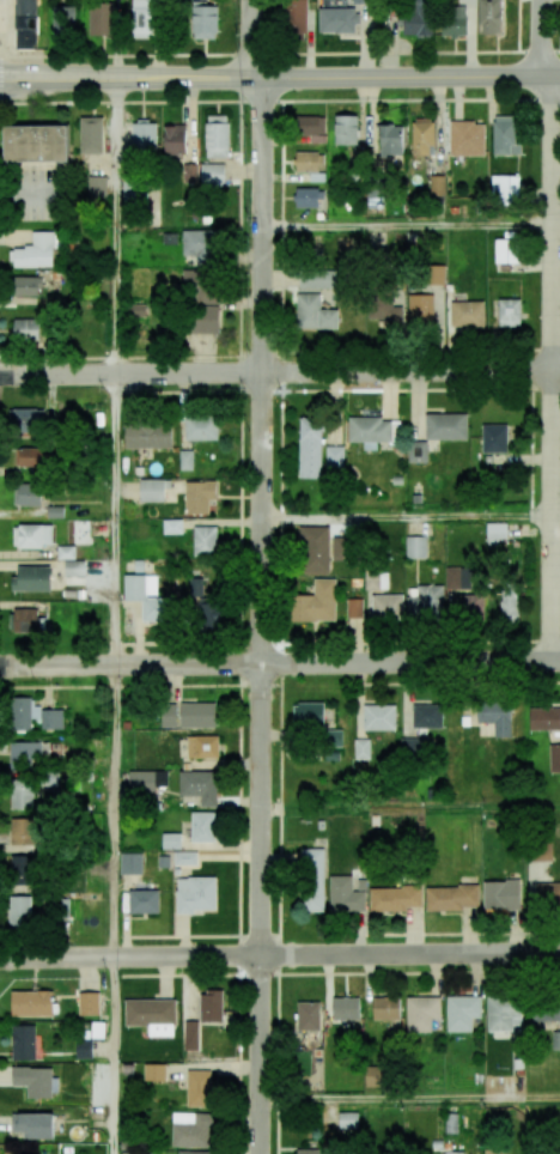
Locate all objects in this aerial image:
building: (360, 1)
building: (489, 17)
building: (101, 18)
building: (141, 18)
building: (294, 18)
building: (337, 19)
building: (418, 19)
building: (203, 20)
building: (454, 20)
building: (62, 22)
building: (25, 24)
road: (518, 25)
road: (542, 37)
road: (251, 38)
road: (538, 51)
road: (384, 53)
road: (124, 55)
road: (0, 75)
road: (406, 77)
road: (124, 78)
road: (279, 99)
building: (311, 127)
building: (345, 129)
building: (91, 134)
building: (144, 134)
building: (421, 135)
building: (504, 135)
building: (217, 136)
building: (174, 139)
building: (467, 139)
building: (390, 140)
building: (35, 144)
building: (309, 162)
building: (190, 172)
building: (213, 175)
building: (437, 184)
building: (97, 186)
building: (504, 189)
building: (306, 198)
road: (116, 225)
road: (556, 225)
road: (408, 227)
building: (197, 247)
building: (37, 250)
building: (506, 250)
building: (436, 274)
building: (316, 279)
building: (25, 285)
building: (199, 286)
building: (384, 309)
building: (420, 309)
building: (135, 310)
building: (314, 312)
building: (509, 312)
building: (467, 314)
building: (205, 318)
building: (25, 330)
road: (553, 369)
road: (279, 371)
building: (26, 419)
building: (202, 425)
building: (445, 426)
building: (372, 431)
building: (147, 436)
building: (494, 438)
building: (310, 445)
building: (416, 451)
building: (34, 457)
building: (334, 457)
building: (188, 458)
building: (151, 490)
building: (26, 494)
building: (199, 496)
road: (410, 517)
road: (116, 520)
building: (172, 526)
building: (497, 533)
building: (32, 535)
building: (207, 539)
building: (416, 547)
building: (315, 548)
building: (67, 551)
building: (75, 566)
building: (456, 577)
building: (31, 578)
building: (376, 581)
building: (195, 588)
building: (147, 597)
building: (315, 602)
building: (426, 602)
building: (509, 605)
building: (386, 606)
building: (468, 606)
building: (354, 608)
building: (209, 615)
road: (262, 617)
building: (25, 620)
road: (279, 663)
building: (23, 713)
building: (309, 713)
building: (197, 715)
building: (168, 716)
building: (427, 716)
building: (495, 716)
building: (379, 717)
building: (51, 718)
building: (544, 718)
building: (334, 737)
building: (202, 746)
building: (412, 746)
building: (361, 748)
building: (29, 753)
building: (554, 758)
building: (51, 781)
building: (146, 781)
building: (200, 785)
building: (22, 794)
road: (410, 809)
road: (115, 812)
building: (202, 827)
building: (23, 831)
building: (171, 840)
building: (542, 850)
building: (184, 858)
building: (130, 863)
building: (23, 869)
building: (312, 880)
building: (547, 893)
building: (195, 894)
building: (345, 894)
building: (501, 895)
building: (395, 898)
building: (451, 898)
building: (142, 901)
building: (19, 910)
road: (279, 954)
building: (31, 1003)
building: (87, 1003)
building: (211, 1006)
building: (345, 1008)
building: (385, 1008)
building: (543, 1010)
building: (148, 1012)
building: (462, 1012)
building: (421, 1013)
building: (504, 1013)
building: (308, 1015)
building: (190, 1035)
building: (555, 1040)
building: (23, 1041)
building: (83, 1047)
road: (112, 1056)
building: (153, 1071)
building: (32, 1081)
building: (200, 1087)
road: (410, 1099)
building: (348, 1120)
building: (34, 1124)
building: (191, 1129)
building: (491, 1150)
building: (194, 1152)
building: (305, 1152)

